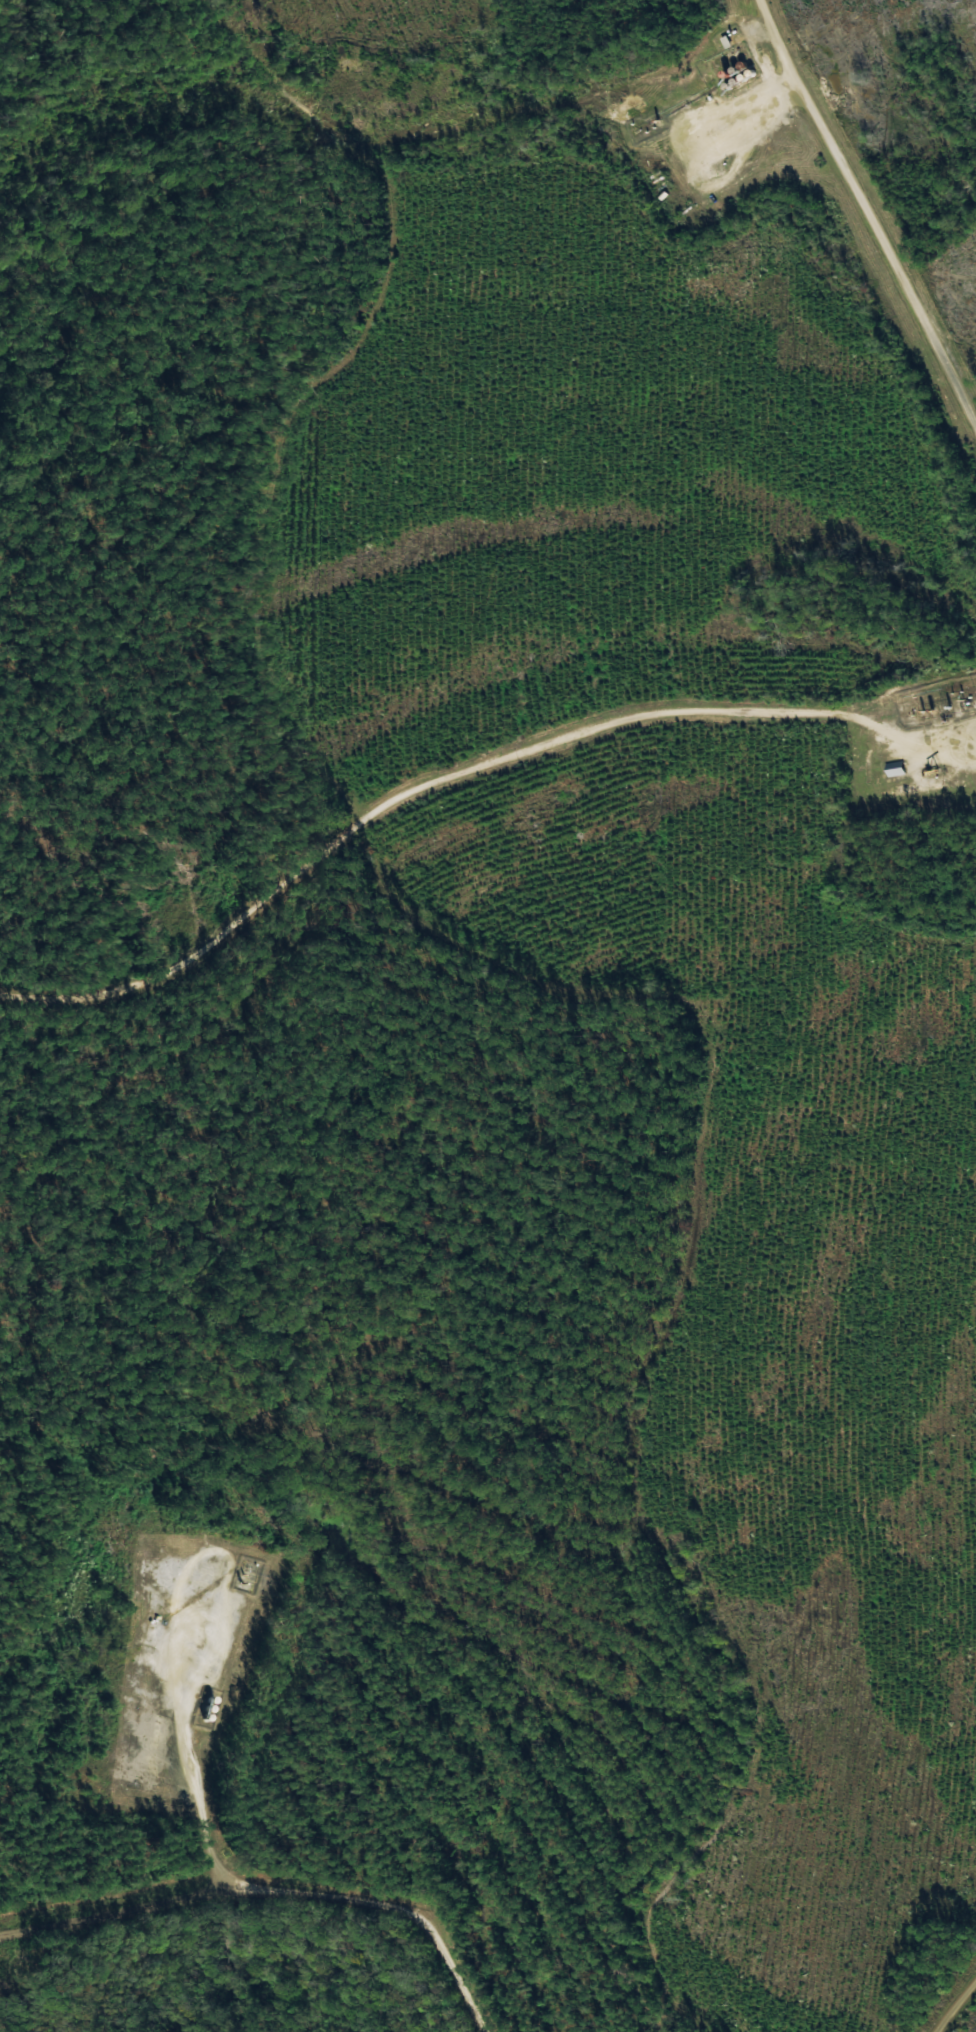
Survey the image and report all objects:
road: (873, 243)
road: (456, 750)
building: (896, 767)

